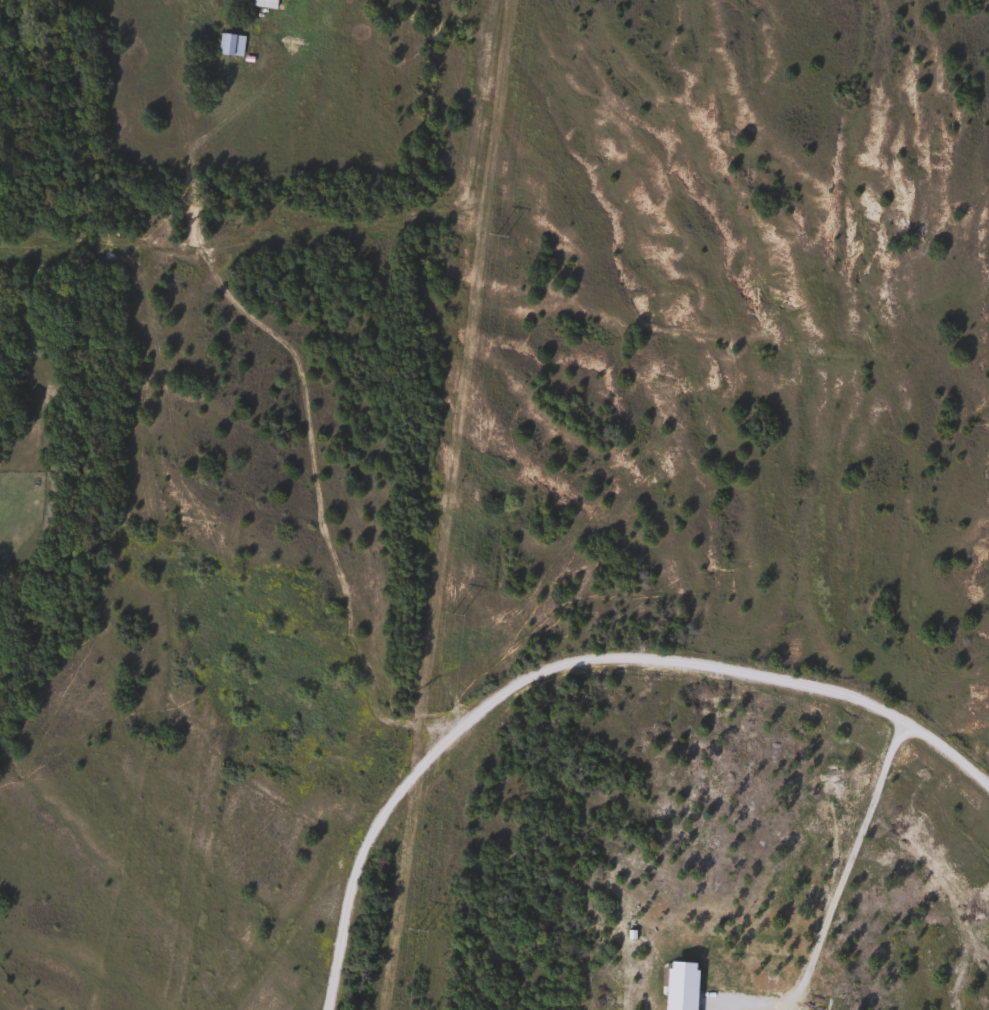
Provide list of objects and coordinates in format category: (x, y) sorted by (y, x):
building: (261, 4)
building: (227, 45)
power tower: (500, 236)
power tower: (456, 614)
road: (568, 658)
road: (840, 879)
power tower: (420, 930)

